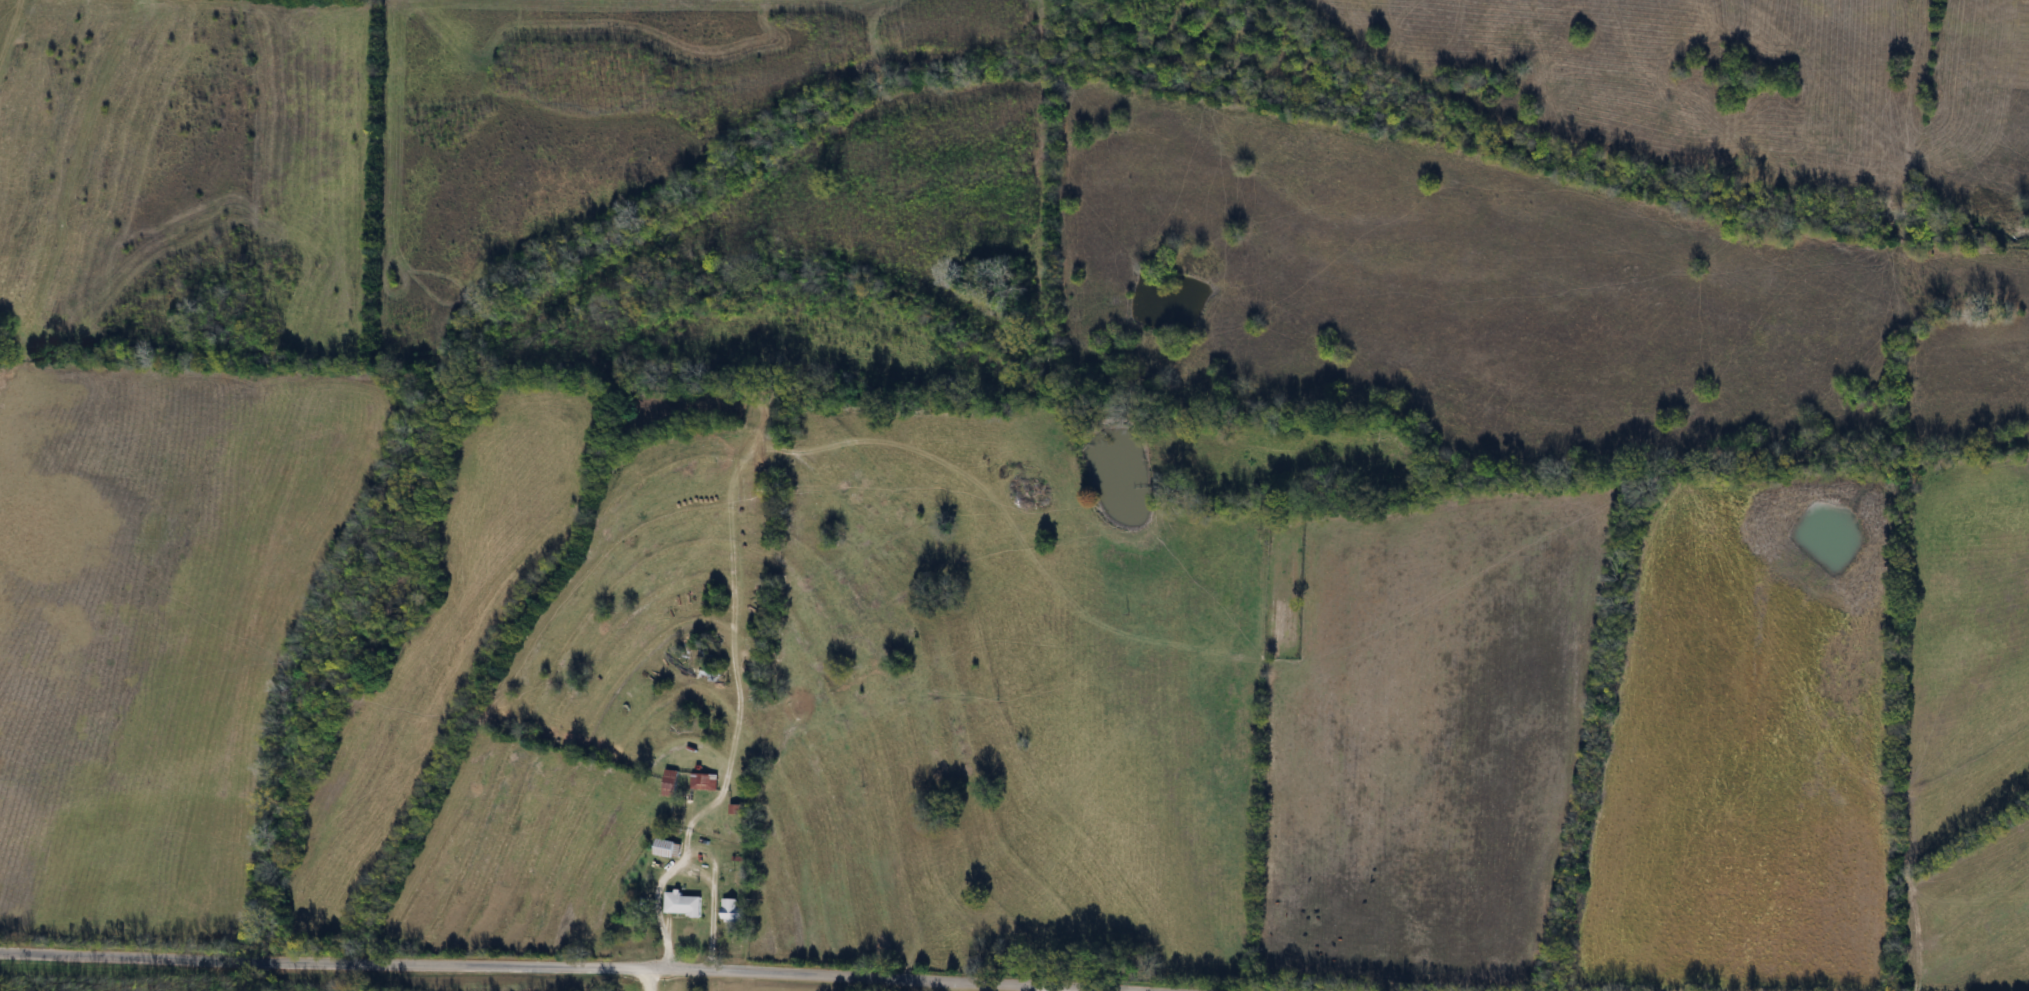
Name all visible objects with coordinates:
building: (702, 781)
building: (669, 783)
building: (734, 809)
building: (667, 848)
building: (682, 904)
building: (731, 910)
road: (584, 966)
road: (646, 979)
road: (1043, 988)

